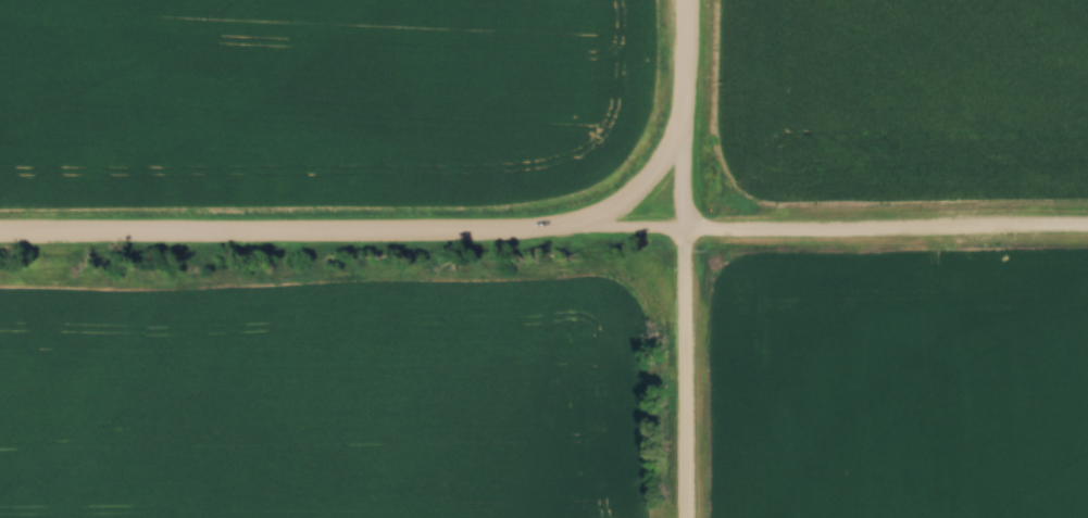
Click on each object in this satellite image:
road: (648, 186)
road: (543, 230)
road: (685, 258)

